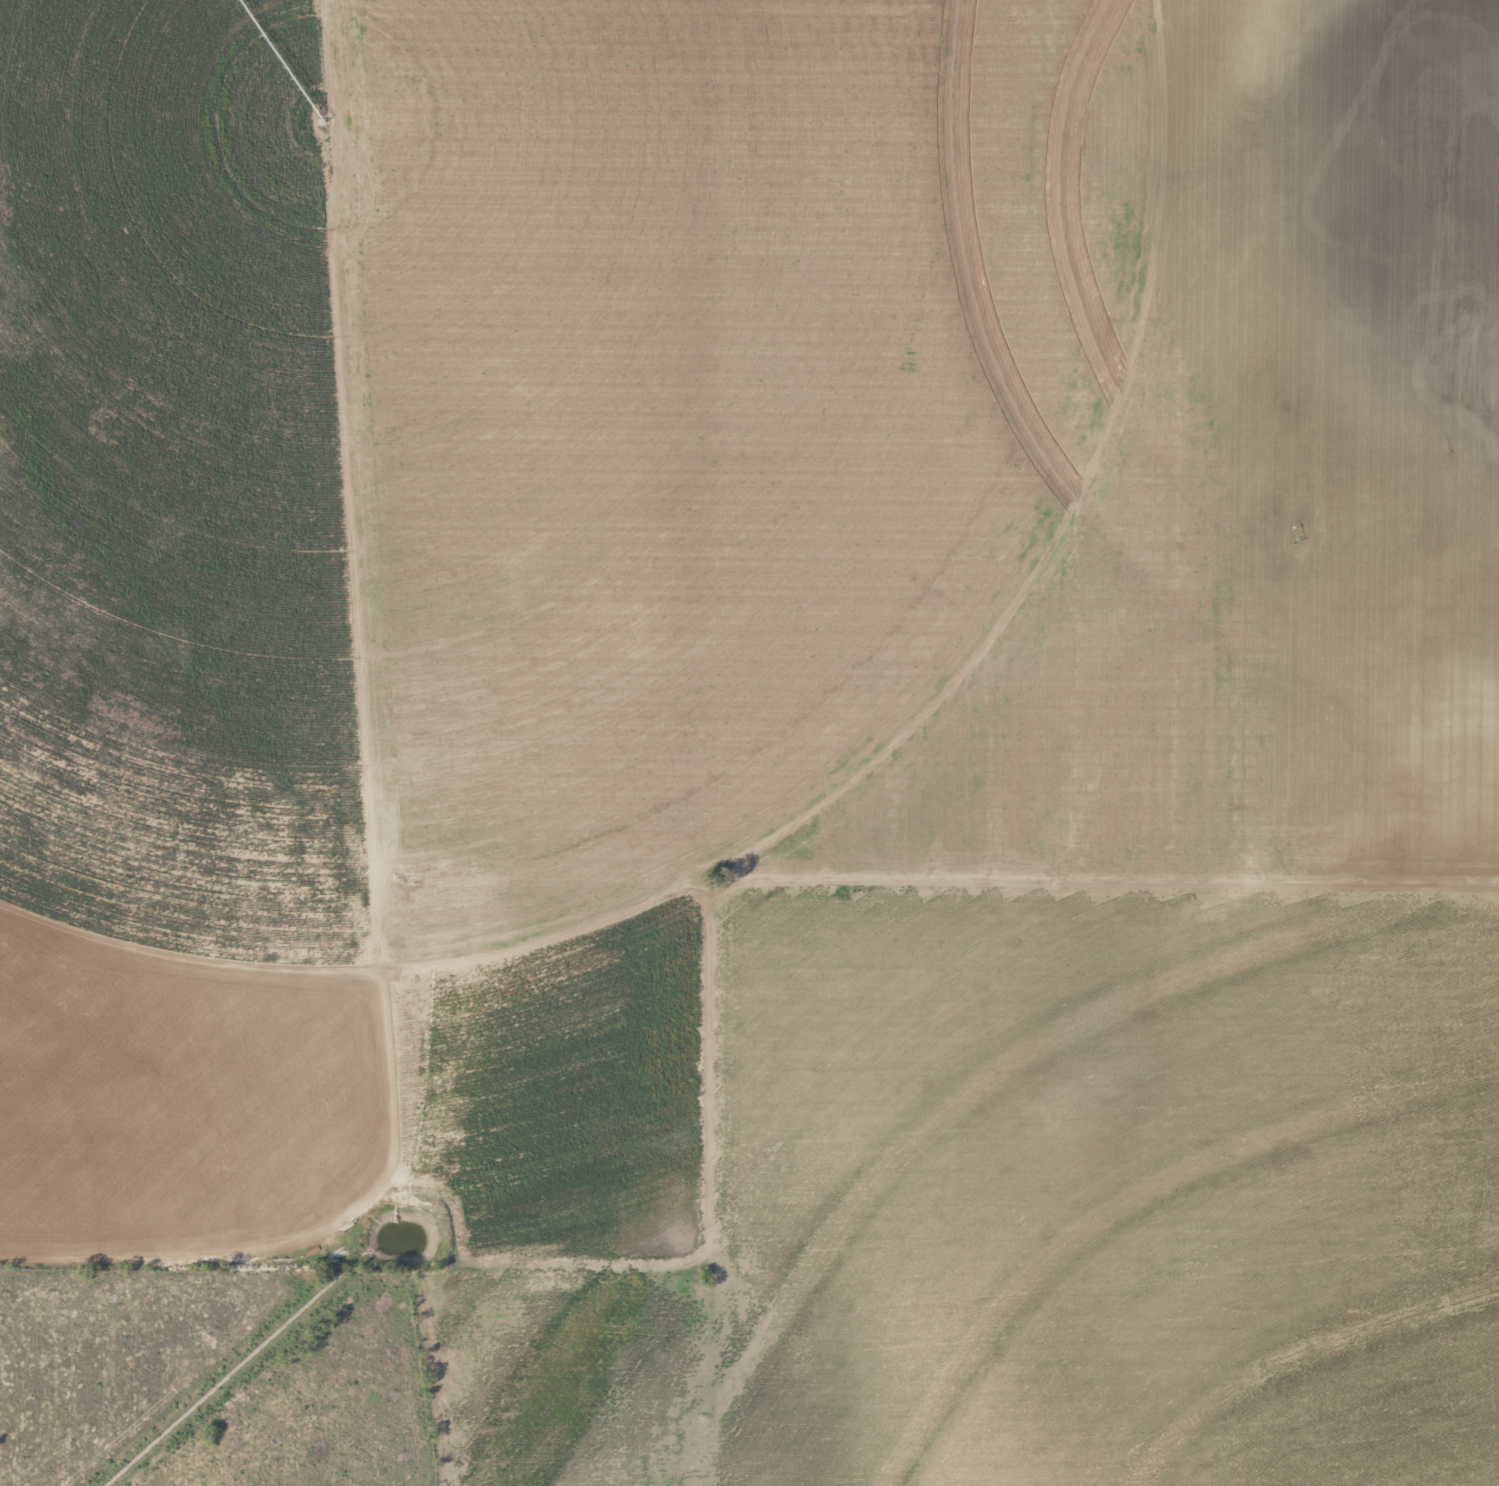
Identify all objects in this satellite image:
crop: (525, 433)

